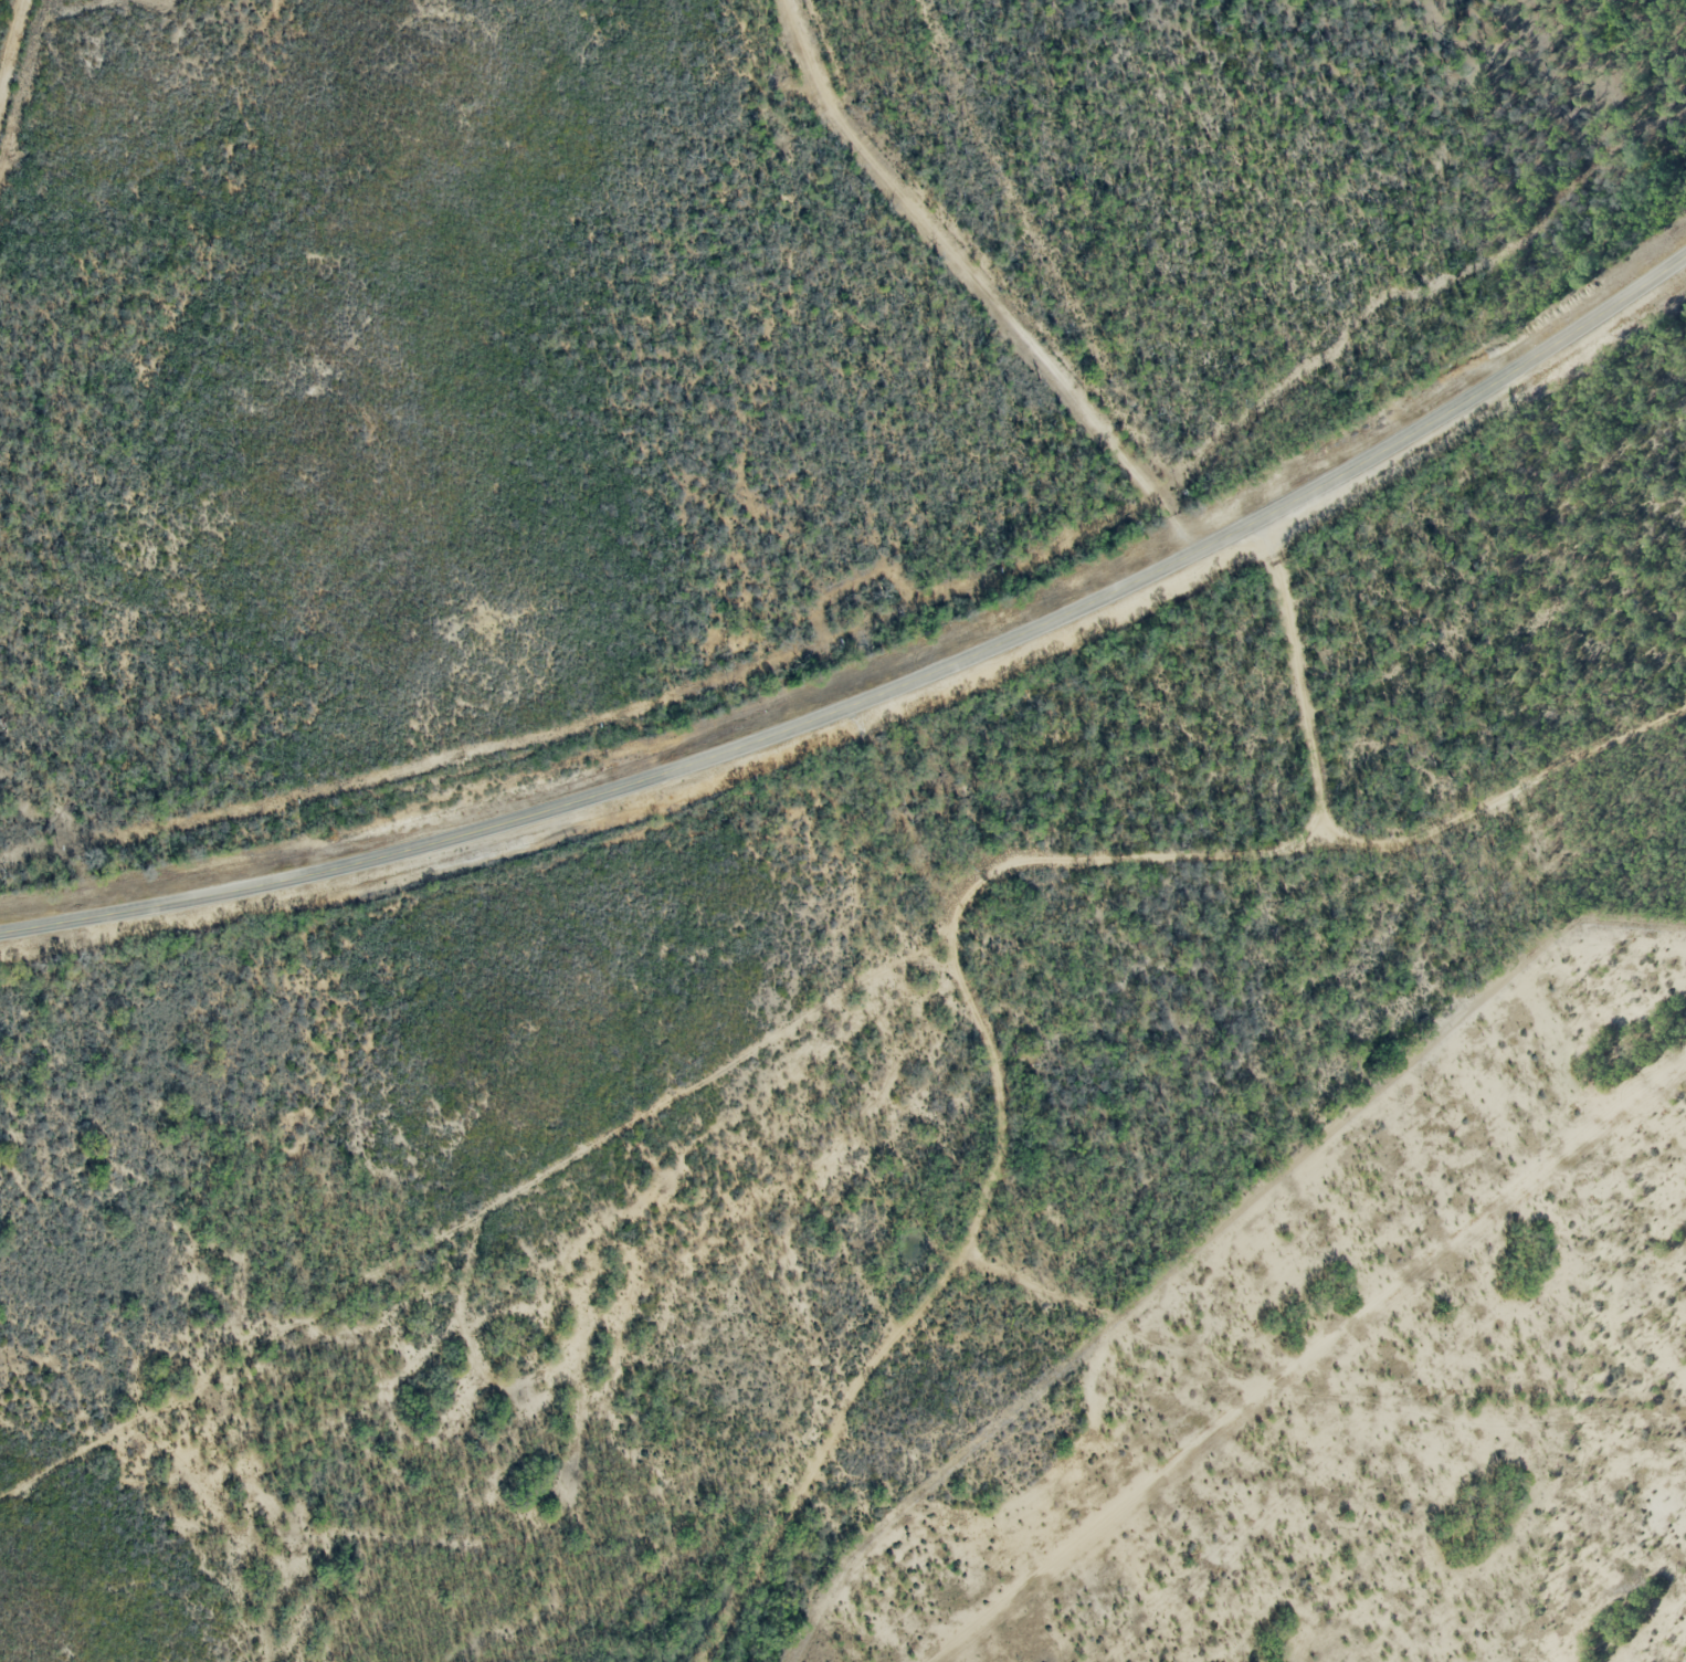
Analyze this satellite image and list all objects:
road: (1002, 276)
road: (883, 695)
road: (1355, 850)
road: (1011, 859)
road: (923, 1305)

